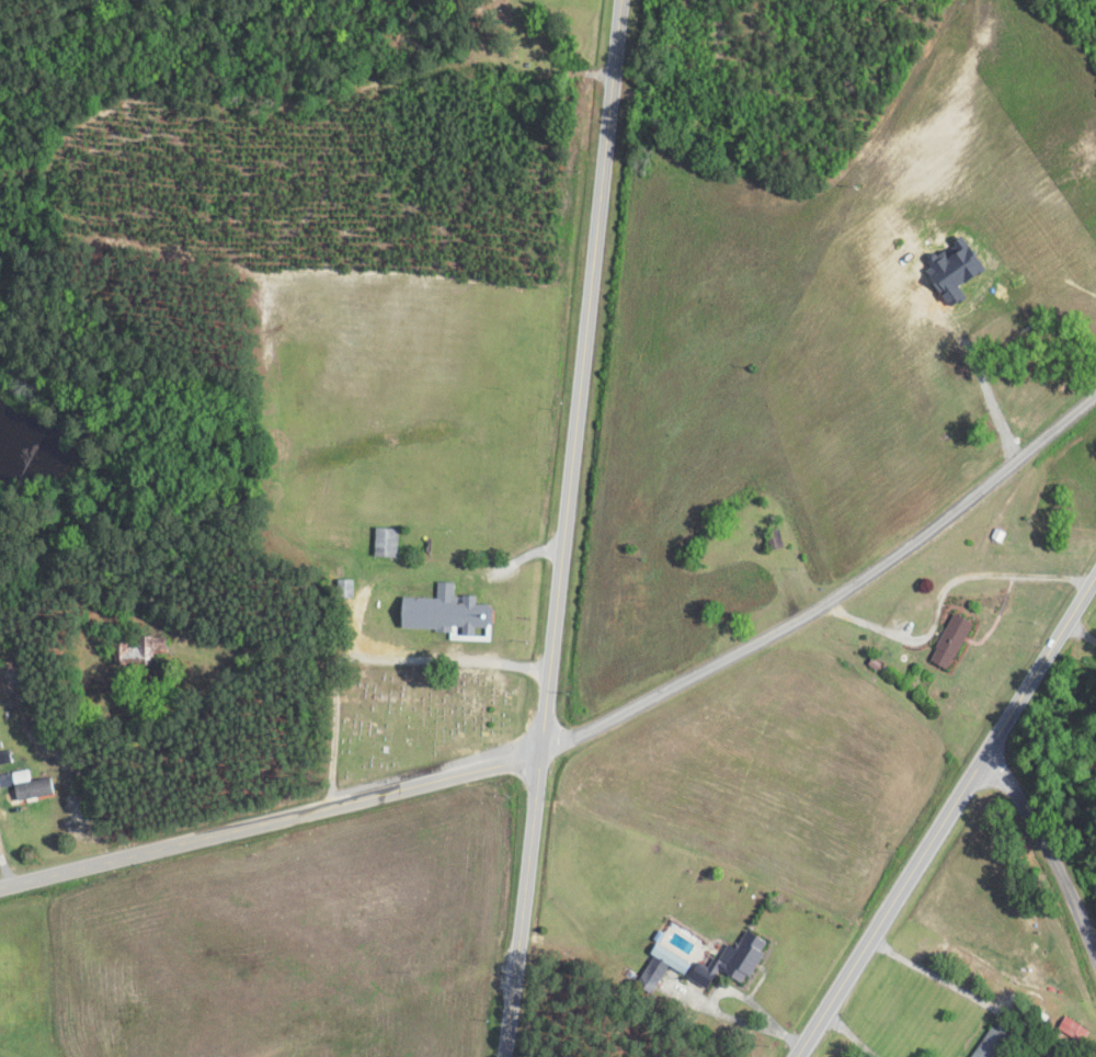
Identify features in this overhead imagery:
road: (566, 527)
building: (777, 538)
building: (389, 542)
building: (350, 588)
road: (826, 588)
building: (448, 613)
building: (956, 641)
building: (139, 652)
building: (36, 788)
road: (949, 811)
road: (270, 830)
road: (1053, 834)
building: (731, 961)
building: (650, 979)
building: (994, 1042)

